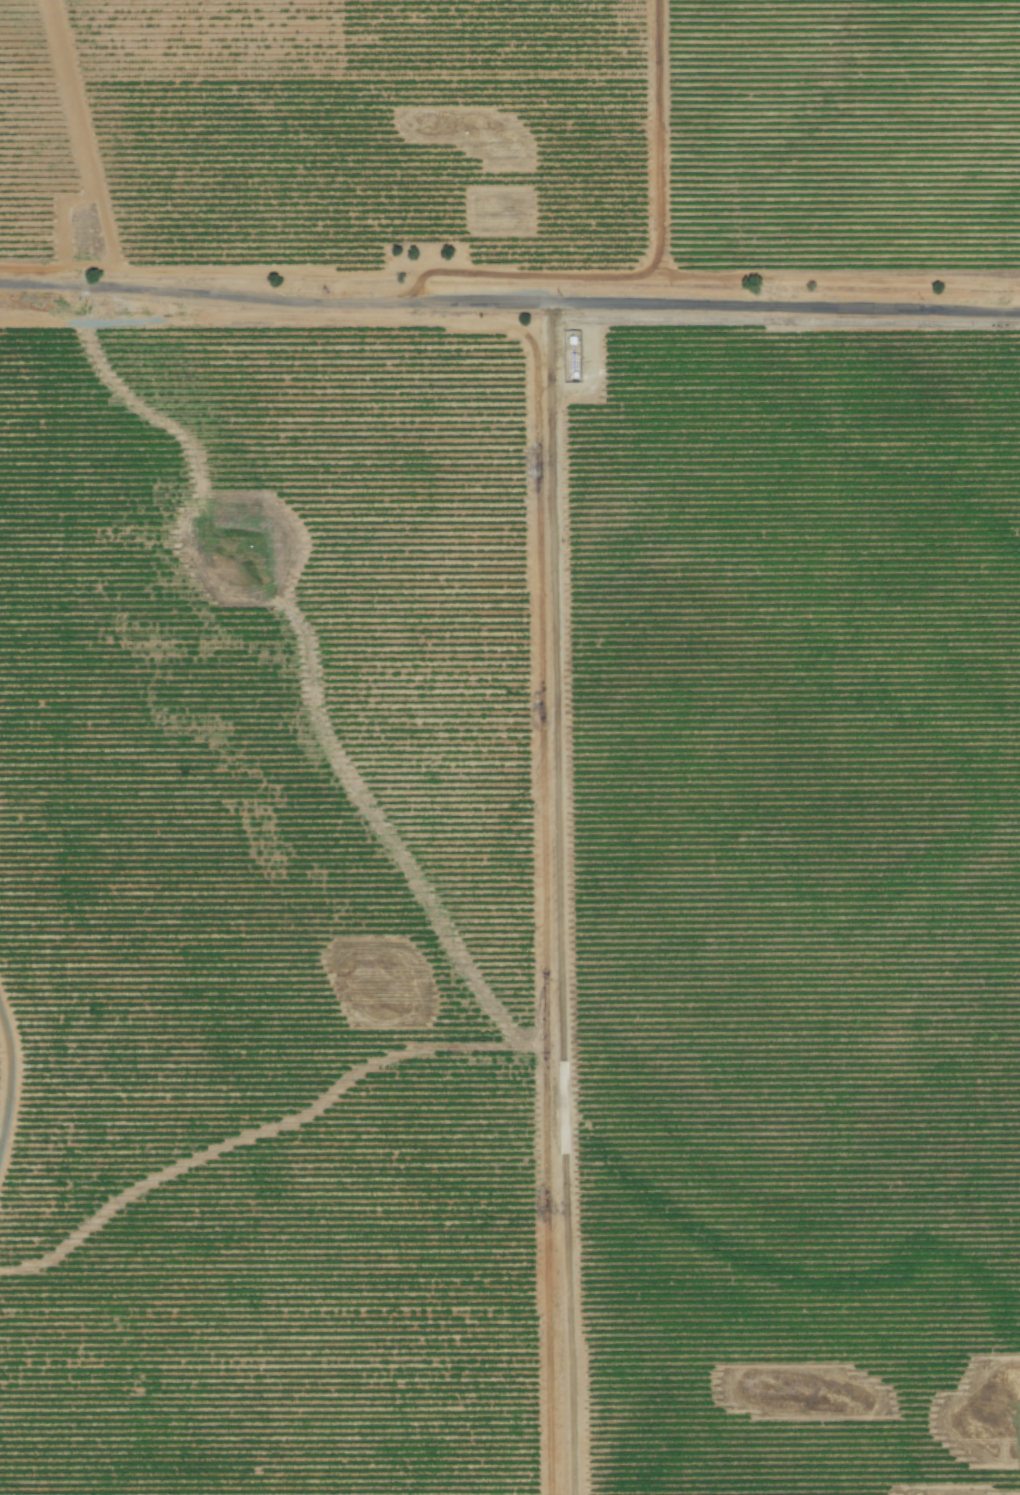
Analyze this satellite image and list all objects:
road: (509, 303)
crop: (510, 747)

